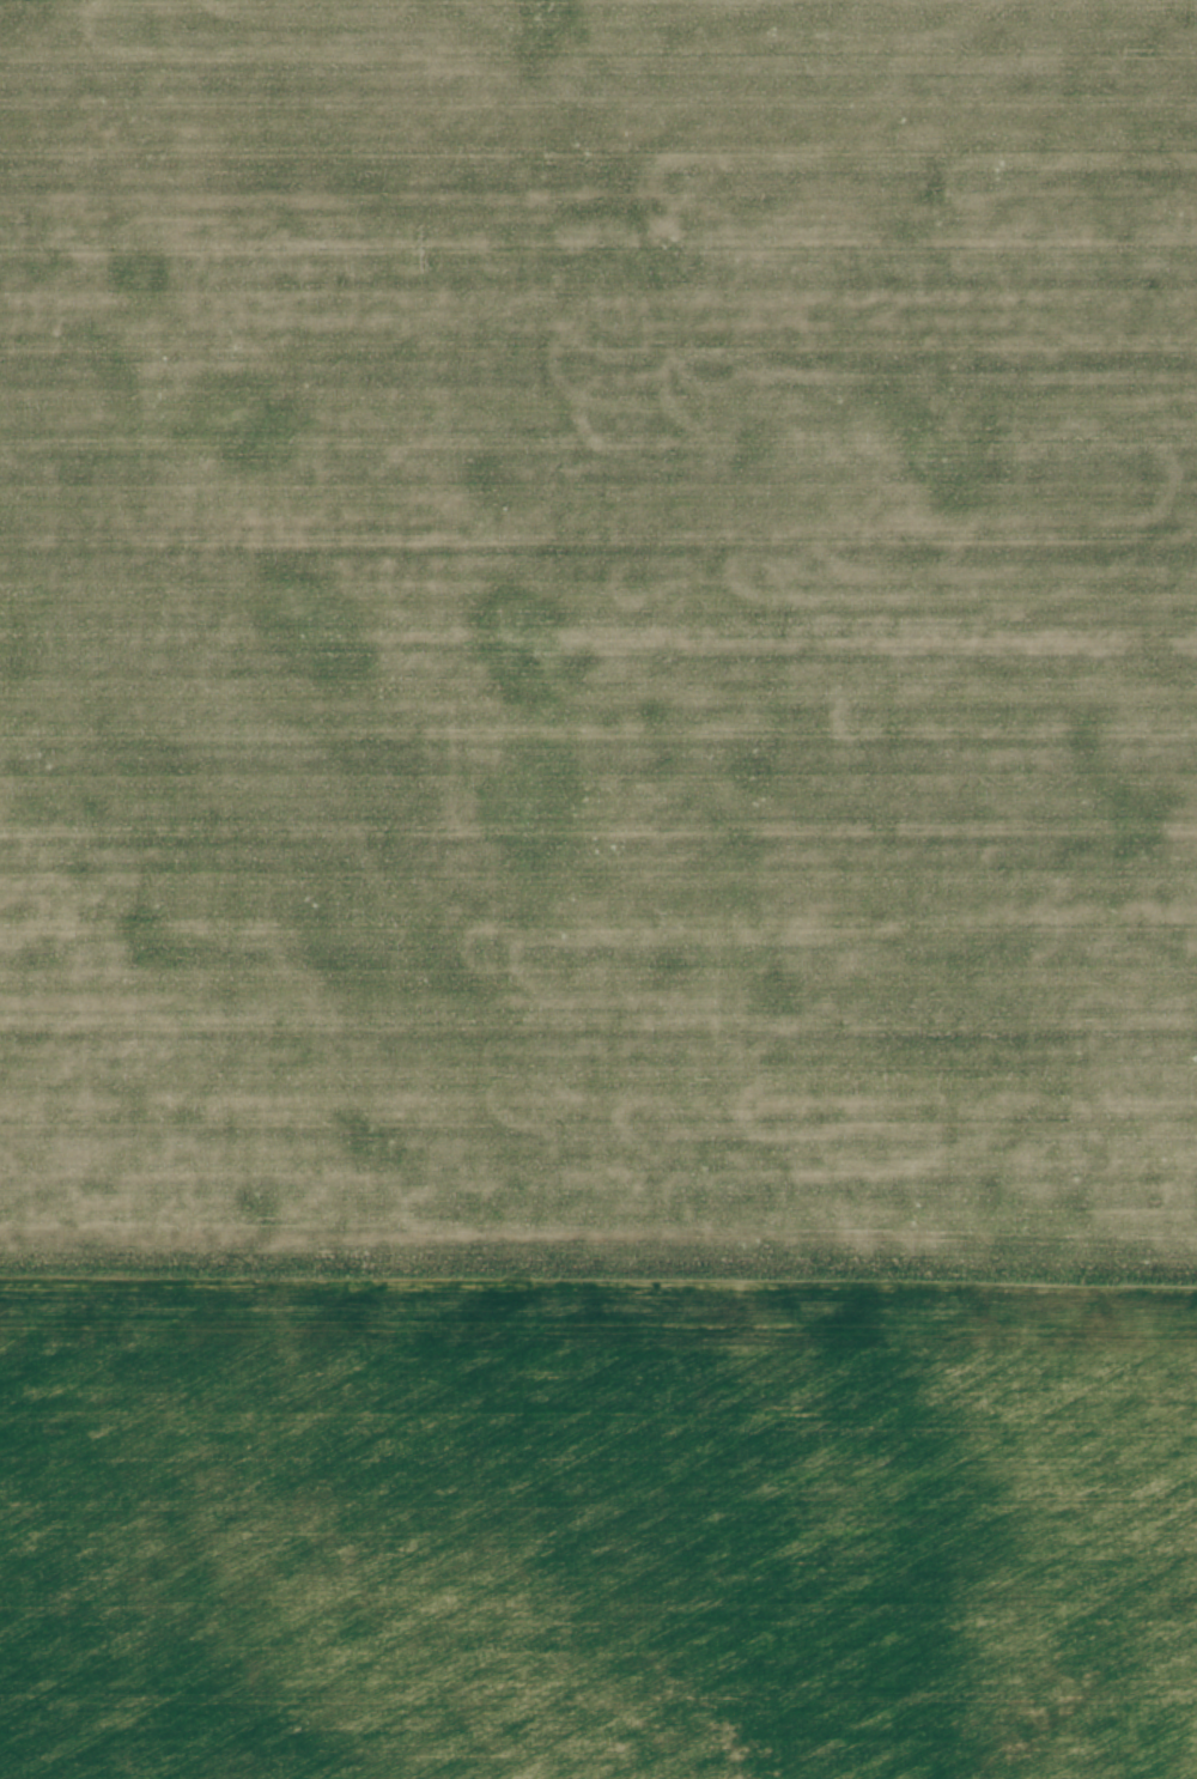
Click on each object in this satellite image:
crop: (598, 889)

